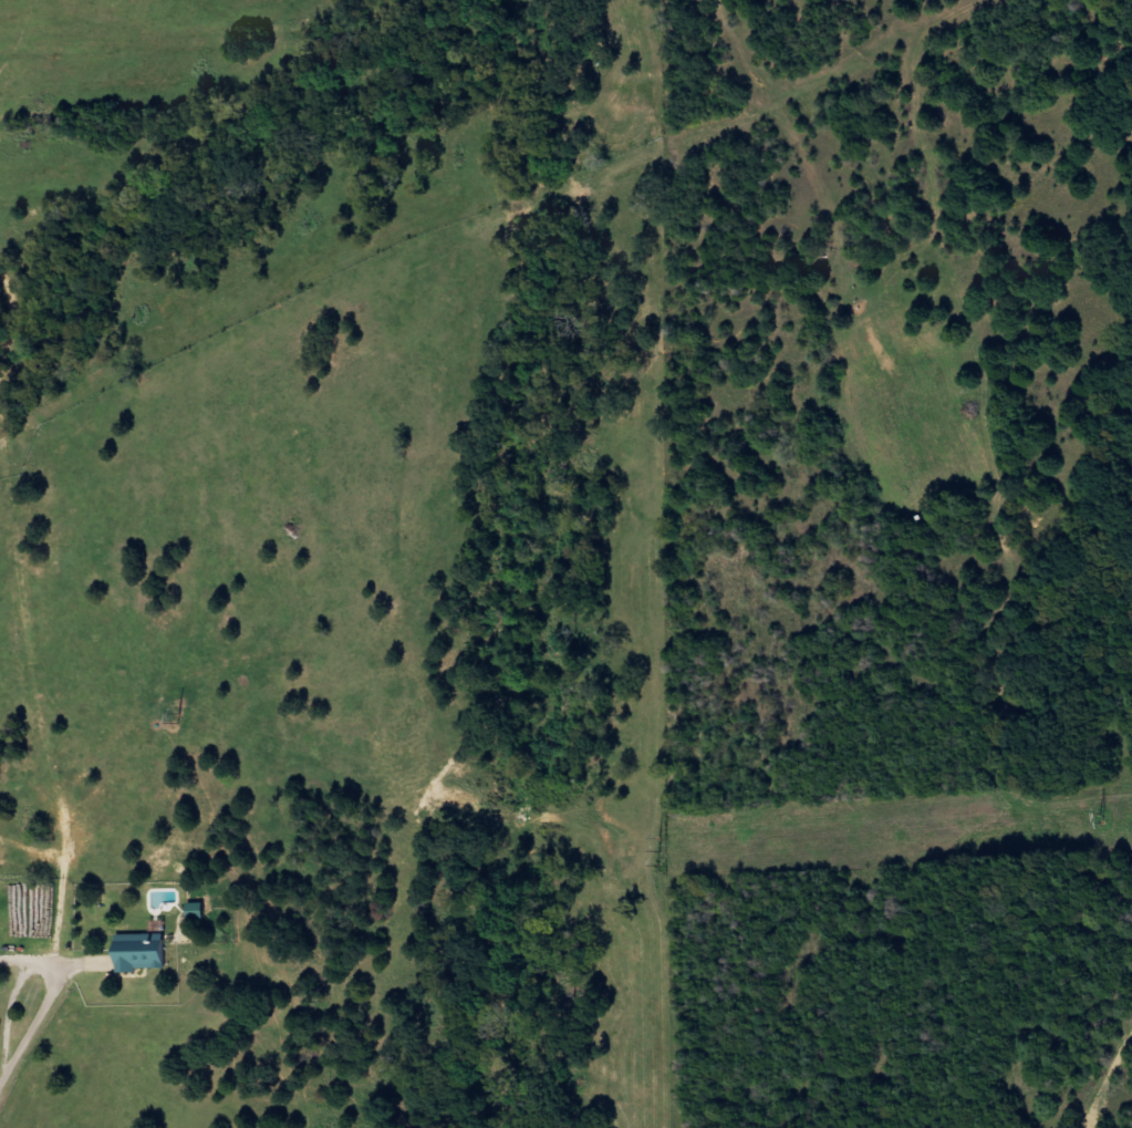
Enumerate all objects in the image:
power tower: (178, 716)
power tower: (1101, 817)
power tower: (660, 849)
building: (201, 911)
building: (145, 952)

